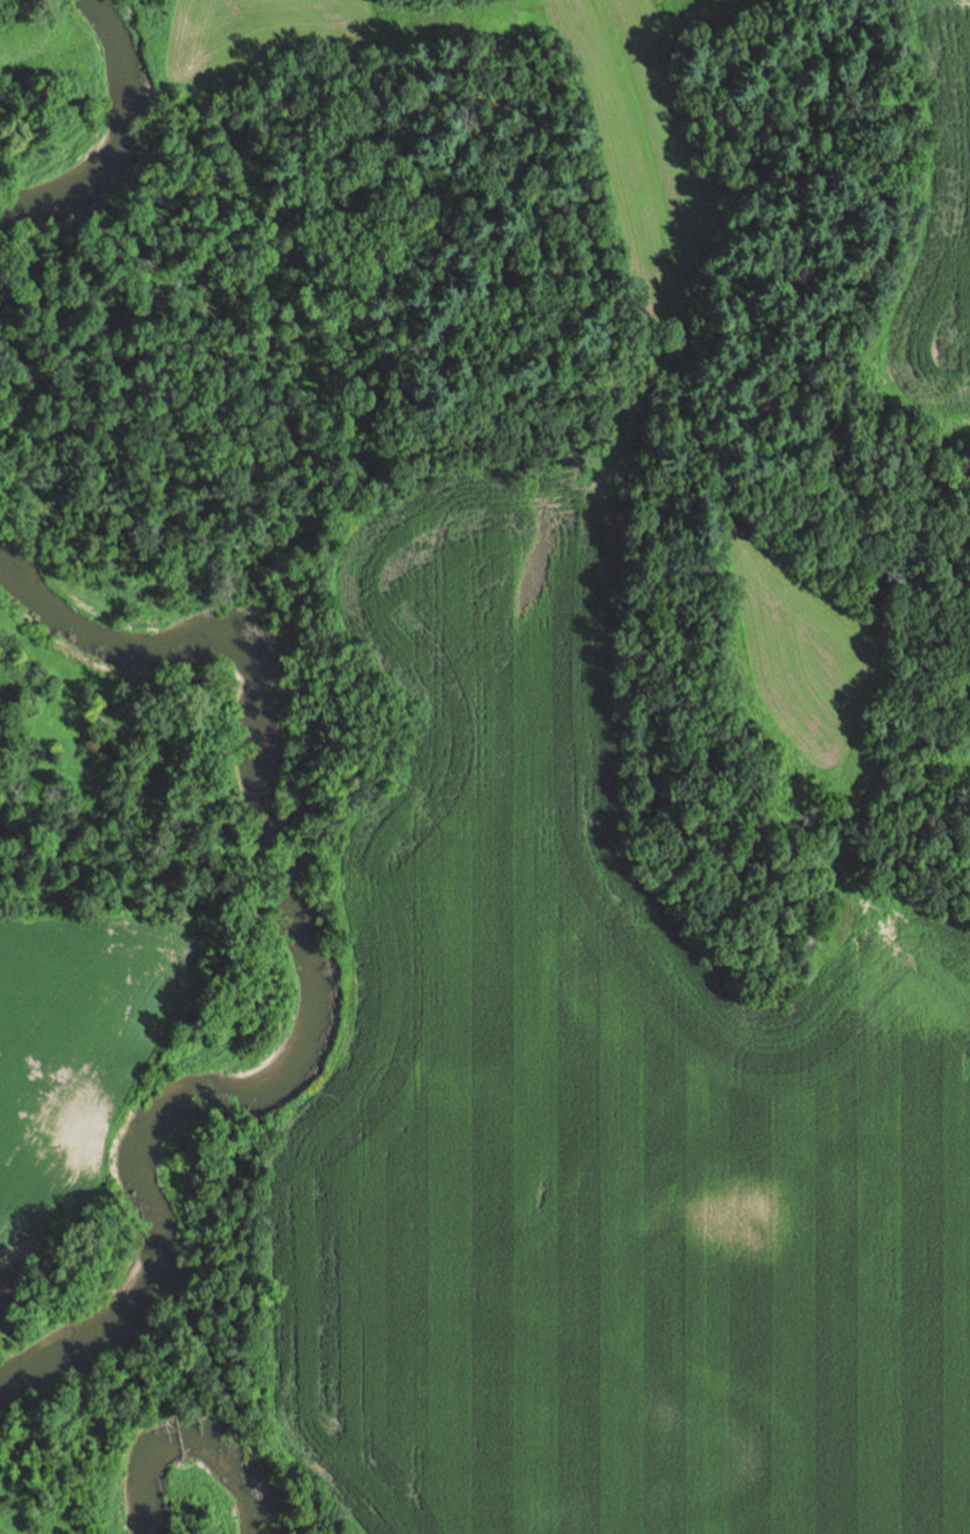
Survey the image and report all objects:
river: (115, 135)
river: (309, 955)
river: (188, 1446)

